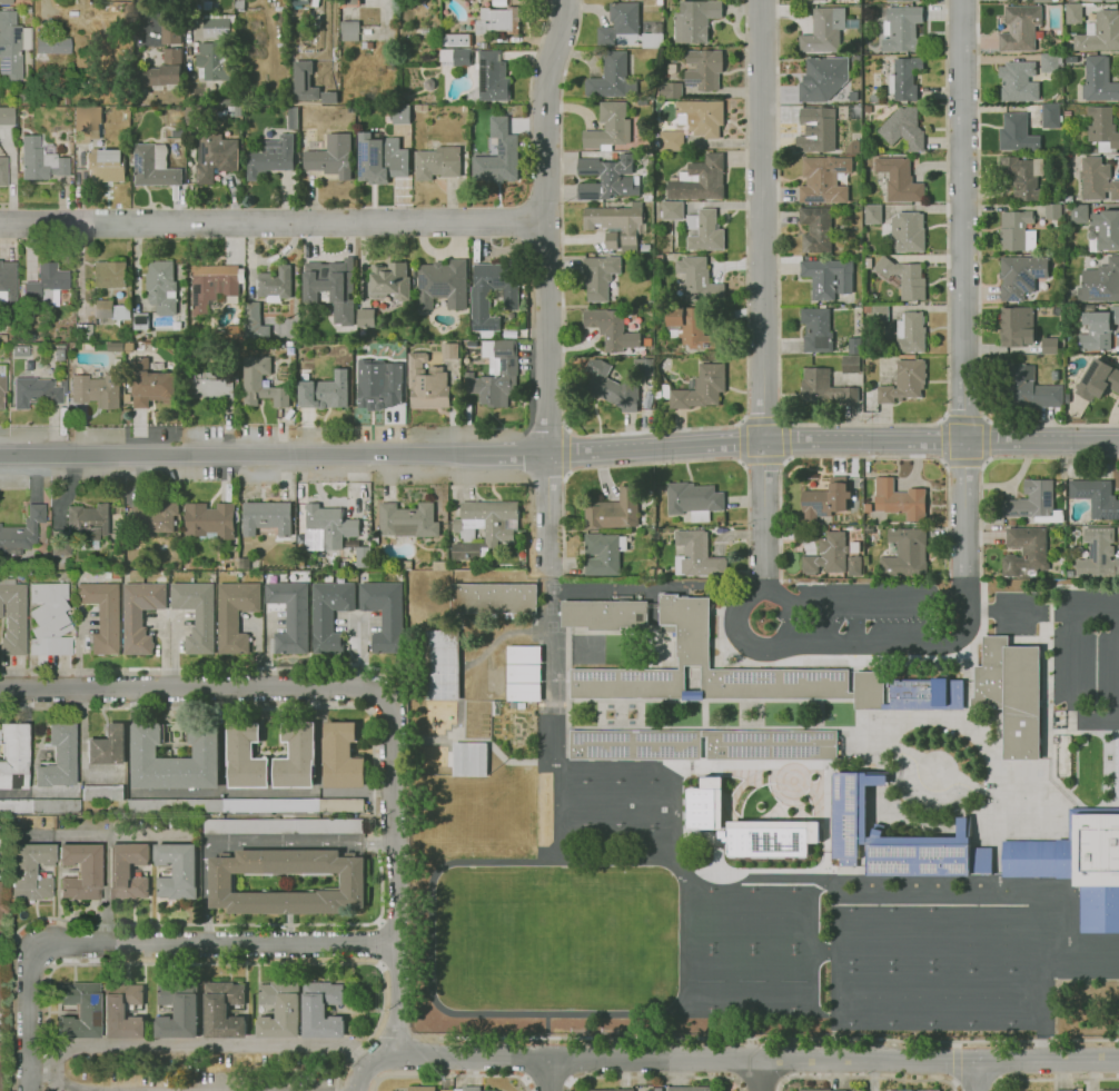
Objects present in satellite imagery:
building: (804, 0)
building: (902, 0)
building: (1095, 0)
building: (1044, 1)
building: (6, 2)
building: (348, 3)
building: (239, 4)
building: (208, 6)
building: (1073, 13)
road: (137, 19)
road: (191, 19)
building: (497, 20)
building: (695, 20)
building: (219, 26)
building: (628, 28)
building: (901, 29)
building: (1020, 29)
building: (349, 30)
building: (826, 30)
building: (425, 31)
building: (170, 32)
building: (1099, 33)
building: (457, 39)
building: (12, 44)
building: (51, 44)
building: (367, 44)
building: (456, 57)
building: (1071, 60)
building: (214, 61)
road: (534, 62)
building: (1049, 62)
building: (672, 68)
building: (166, 70)
building: (703, 70)
building: (612, 78)
building: (822, 78)
building: (488, 79)
building: (904, 79)
building: (1098, 80)
building: (304, 81)
building: (1018, 81)
building: (671, 90)
building: (852, 96)
building: (22, 97)
building: (874, 99)
building: (67, 101)
building: (420, 108)
building: (868, 109)
building: (402, 115)
building: (1067, 115)
building: (7, 116)
building: (190, 116)
building: (1050, 116)
building: (293, 117)
building: (701, 117)
building: (86, 123)
building: (610, 129)
building: (903, 129)
building: (816, 130)
building: (1101, 130)
building: (1017, 133)
building: (671, 141)
building: (1069, 146)
building: (852, 147)
building: (497, 156)
building: (215, 157)
building: (271, 157)
building: (331, 157)
building: (380, 159)
building: (40, 160)
building: (438, 162)
building: (106, 165)
building: (154, 166)
building: (3, 171)
building: (607, 178)
building: (1024, 178)
building: (824, 179)
building: (700, 180)
building: (899, 180)
building: (1097, 180)
building: (647, 197)
building: (1068, 199)
building: (673, 210)
building: (1053, 210)
building: (872, 215)
road: (762, 220)
road: (961, 220)
building: (618, 222)
road: (273, 224)
building: (1096, 226)
building: (816, 229)
building: (704, 231)
building: (1017, 231)
building: (907, 232)
building: (611, 240)
building: (646, 248)
building: (660, 258)
building: (868, 262)
building: (3, 274)
building: (109, 275)
building: (600, 276)
road: (980, 276)
building: (1020, 276)
building: (828, 277)
building: (904, 278)
building: (699, 280)
building: (389, 281)
building: (1100, 282)
building: (275, 285)
building: (443, 285)
road: (546, 285)
building: (46, 286)
building: (214, 286)
building: (161, 287)
building: (333, 287)
building: (1068, 299)
building: (479, 300)
building: (1067, 305)
building: (656, 308)
building: (110, 310)
building: (878, 311)
building: (366, 318)
building: (140, 321)
building: (1073, 323)
building: (248, 325)
building: (1018, 327)
building: (692, 328)
building: (1097, 328)
building: (612, 329)
building: (816, 330)
building: (83, 333)
building: (910, 333)
building: (647, 341)
building: (289, 344)
building: (88, 345)
building: (853, 346)
building: (1050, 346)
building: (116, 347)
building: (20, 351)
building: (59, 351)
building: (449, 351)
building: (850, 364)
building: (29, 366)
building: (644, 366)
building: (2, 369)
building: (495, 375)
building: (1056, 376)
building: (1098, 380)
building: (903, 381)
building: (426, 383)
building: (260, 384)
building: (378, 384)
building: (152, 385)
building: (611, 386)
building: (211, 388)
building: (701, 388)
building: (824, 388)
building: (1029, 388)
building: (2, 390)
building: (96, 390)
building: (323, 390)
building: (37, 391)
road: (963, 419)
road: (761, 421)
road: (861, 423)
road: (648, 432)
road: (987, 439)
road: (941, 440)
road: (741, 442)
road: (786, 442)
road: (565, 450)
road: (559, 455)
road: (855, 457)
road: (764, 460)
road: (661, 463)
road: (963, 464)
building: (1096, 497)
building: (899, 499)
building: (694, 500)
building: (824, 502)
building: (1034, 503)
building: (867, 508)
road: (963, 508)
building: (614, 510)
building: (157, 517)
building: (266, 517)
road: (764, 517)
building: (834, 517)
building: (408, 520)
building: (88, 522)
building: (210, 522)
building: (1011, 522)
building: (330, 525)
building: (118, 526)
building: (484, 528)
building: (870, 529)
building: (21, 532)
building: (60, 543)
building: (1026, 551)
building: (905, 553)
building: (603, 554)
building: (828, 554)
building: (696, 555)
building: (1099, 555)
building: (236, 559)
building: (41, 562)
building: (55, 562)
road: (981, 562)
building: (244, 564)
building: (853, 565)
building: (115, 574)
road: (762, 582)
building: (494, 598)
road: (883, 601)
road: (1020, 611)
road: (1093, 612)
building: (140, 614)
building: (385, 614)
building: (102, 615)
building: (197, 615)
building: (236, 615)
building: (330, 615)
building: (604, 615)
building: (290, 616)
building: (12, 617)
building: (49, 619)
road: (739, 624)
road: (911, 641)
road: (736, 654)
building: (524, 655)
building: (443, 665)
road: (1115, 666)
road: (205, 668)
building: (719, 671)
building: (524, 674)
road: (1071, 687)
road: (553, 688)
road: (196, 692)
building: (524, 692)
building: (1011, 693)
building: (927, 694)
road: (466, 706)
building: (108, 746)
building: (772, 747)
building: (145, 752)
building: (13, 755)
building: (297, 756)
building: (341, 756)
building: (57, 757)
building: (246, 757)
building: (471, 760)
building: (1118, 787)
building: (102, 792)
building: (705, 804)
building: (39, 805)
building: (246, 805)
building: (283, 826)
building: (771, 837)
building: (898, 839)
building: (1077, 864)
building: (31, 871)
building: (128, 871)
building: (178, 871)
building: (80, 872)
road: (394, 877)
building: (221, 883)
road: (382, 893)
building: (0, 907)
road: (143, 942)
road: (379, 944)
road: (222, 963)
park: (959, 964)
building: (0, 983)
building: (101, 1010)
building: (224, 1010)
building: (321, 1010)
building: (178, 1011)
building: (279, 1011)
road: (780, 1038)
road: (197, 1045)
road: (442, 1057)
road: (735, 1058)
road: (759, 1058)
road: (788, 1059)
road: (996, 1061)
road: (953, 1062)
road: (370, 1064)
road: (759, 1073)
road: (548, 1074)
road: (450, 1075)
road: (974, 1075)
road: (652, 1078)
road: (870, 1078)
road: (762, 1079)
road: (735, 1080)
road: (1054, 1080)
road: (976, 1083)
road: (63, 1085)
road: (953, 1088)
road: (263, 1089)
building: (422, 1089)
building: (468, 1089)
building: (689, 1089)
building: (608, 1090)
building: (815, 1090)
building: (912, 1090)
building: (1066, 1090)
building: (1109, 1090)

